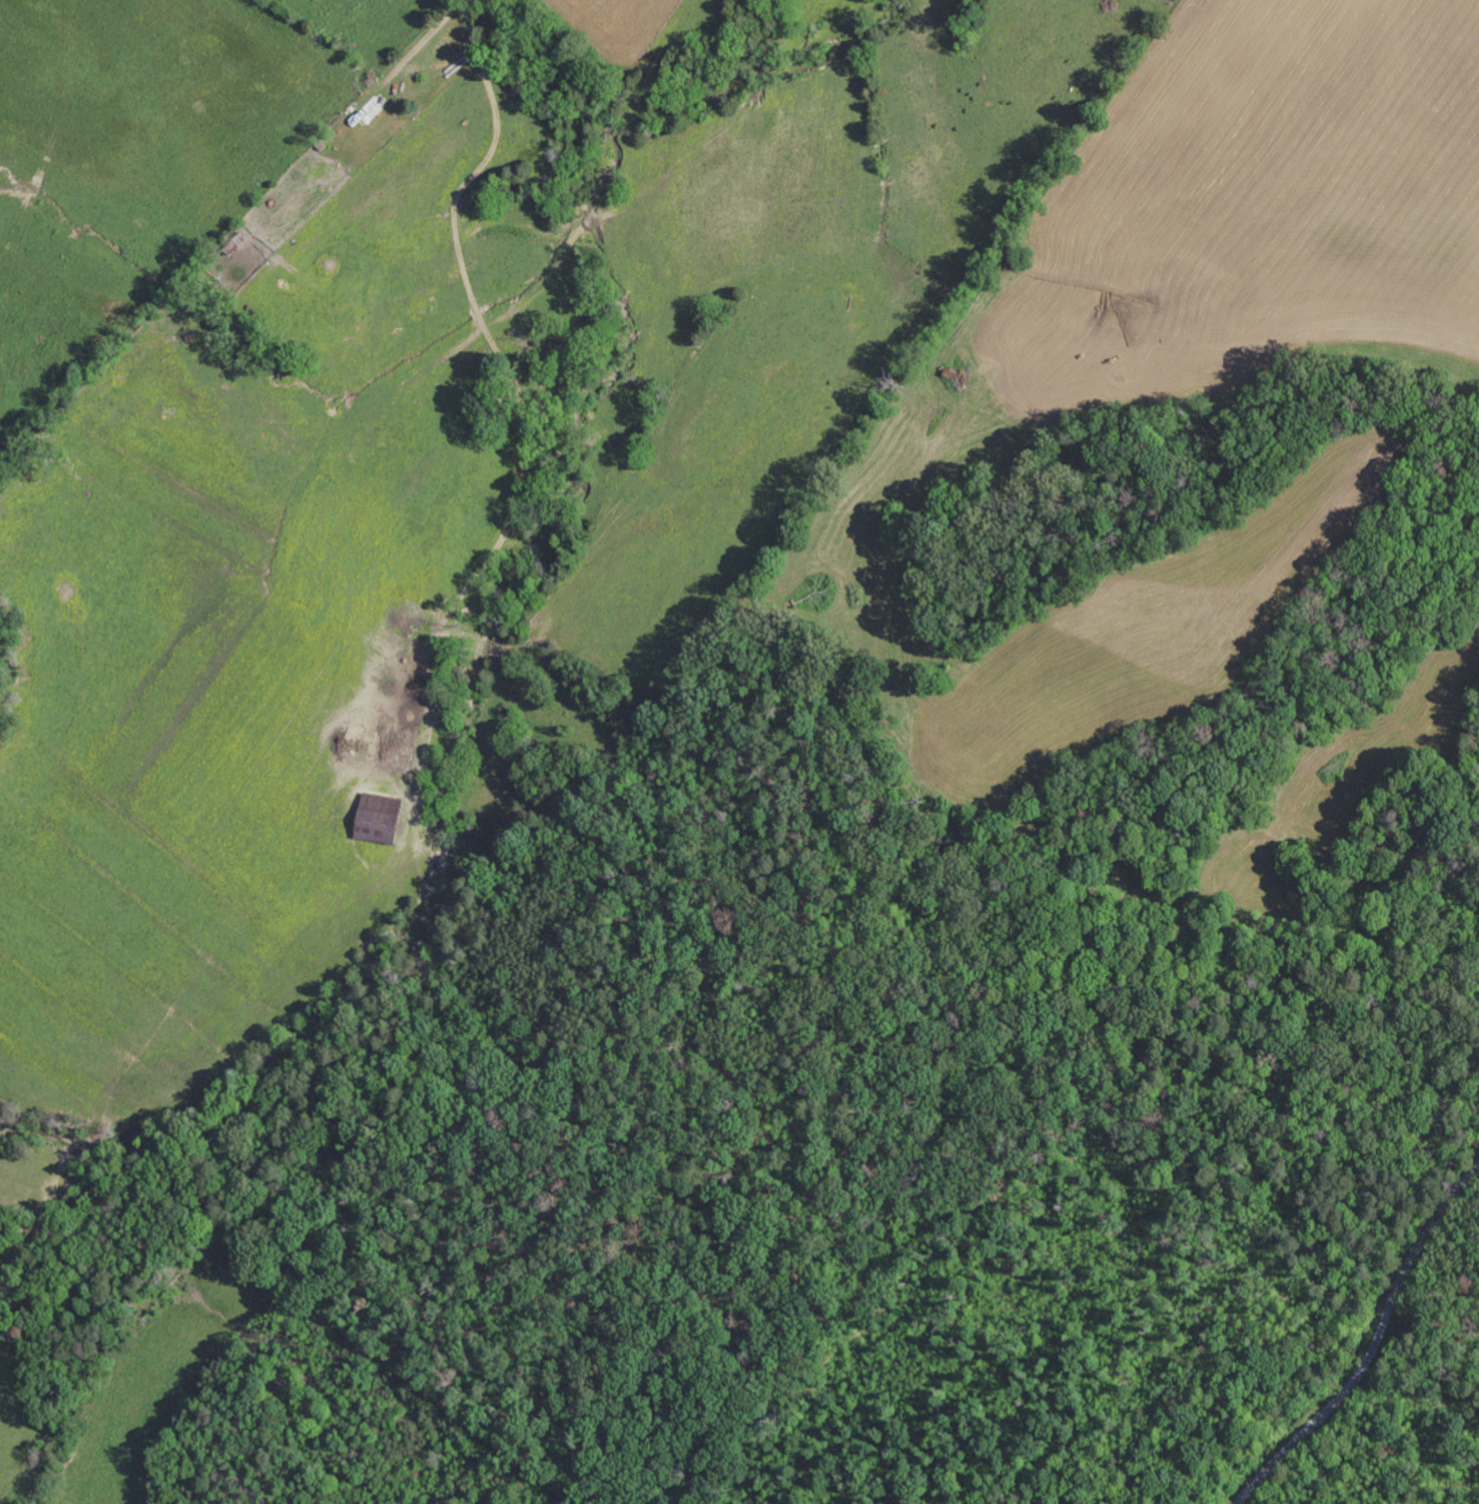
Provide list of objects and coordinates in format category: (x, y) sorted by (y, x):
building: (384, 819)
road: (1375, 1345)

